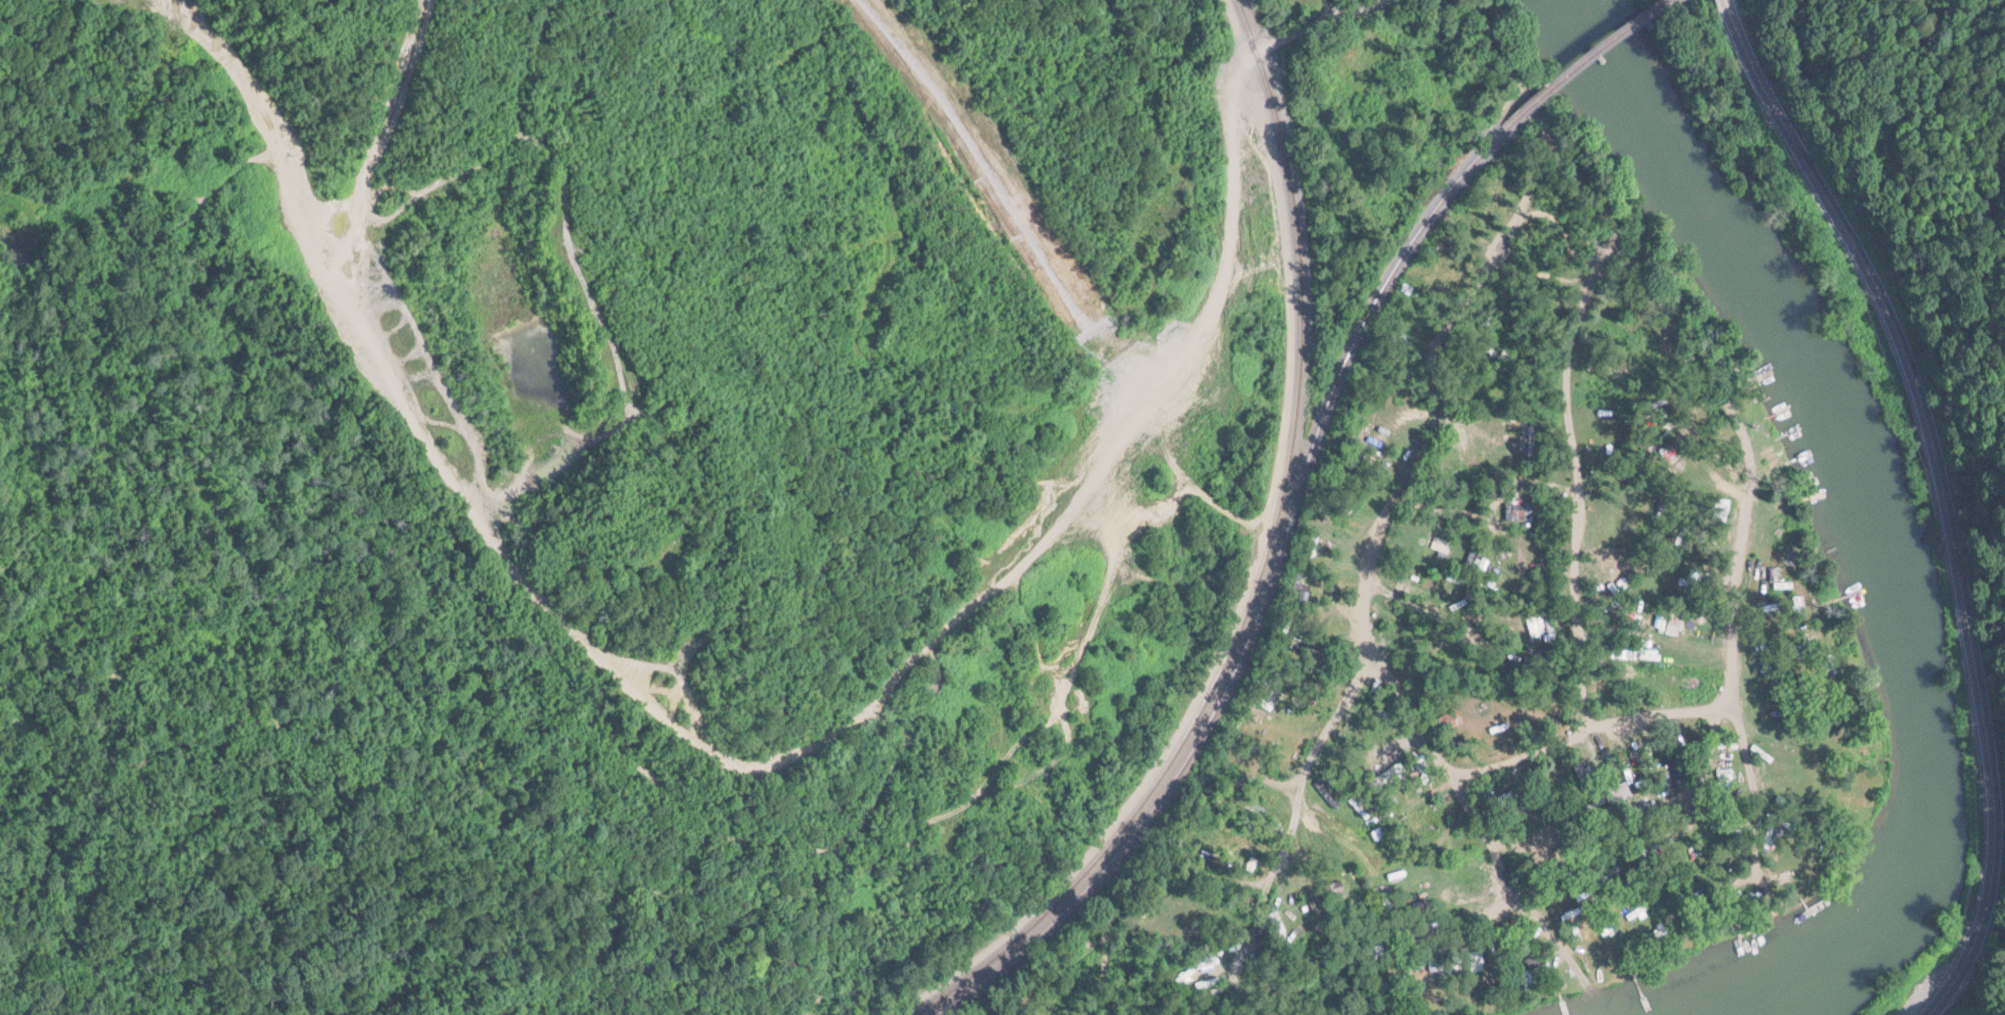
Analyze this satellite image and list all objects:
road: (1318, 25)
railway: (1603, 46)
building: (1638, 317)
road: (1938, 495)
building: (1519, 510)
river: (1870, 523)
building: (1171, 544)
building: (1440, 546)
building: (1526, 559)
railway: (1260, 568)
railway: (1270, 577)
building: (1670, 624)
road: (726, 748)
building: (1581, 770)
building: (1821, 777)
road: (661, 830)
building: (1335, 889)
building: (1423, 908)
building: (1205, 979)

